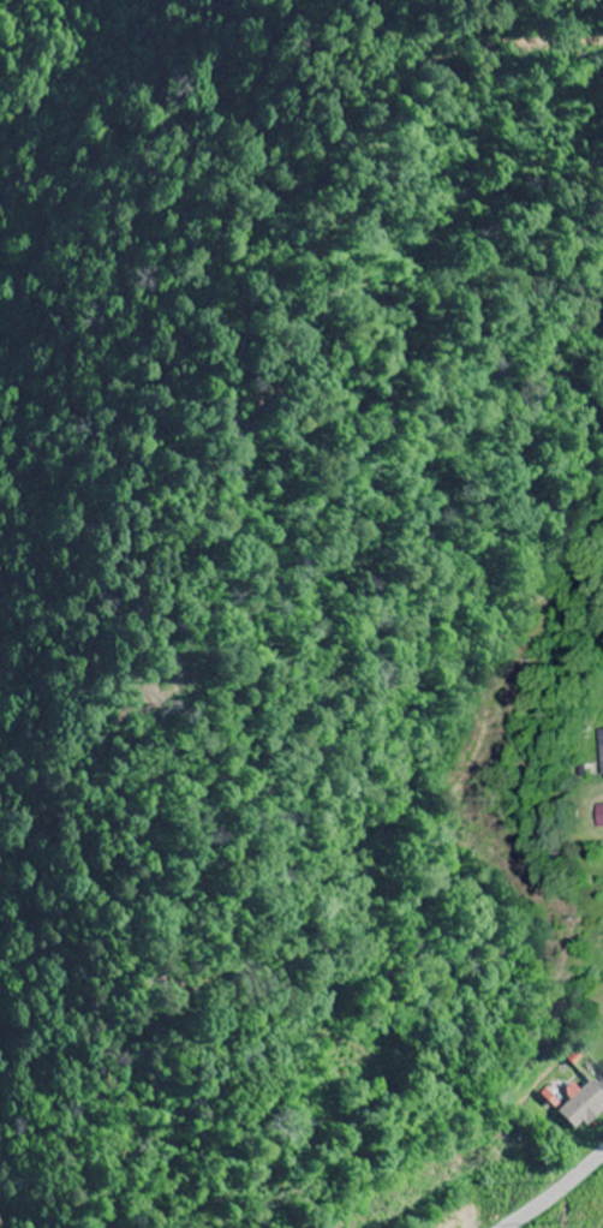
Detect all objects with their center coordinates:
building: (599, 752)
building: (585, 1105)
road: (560, 1194)

